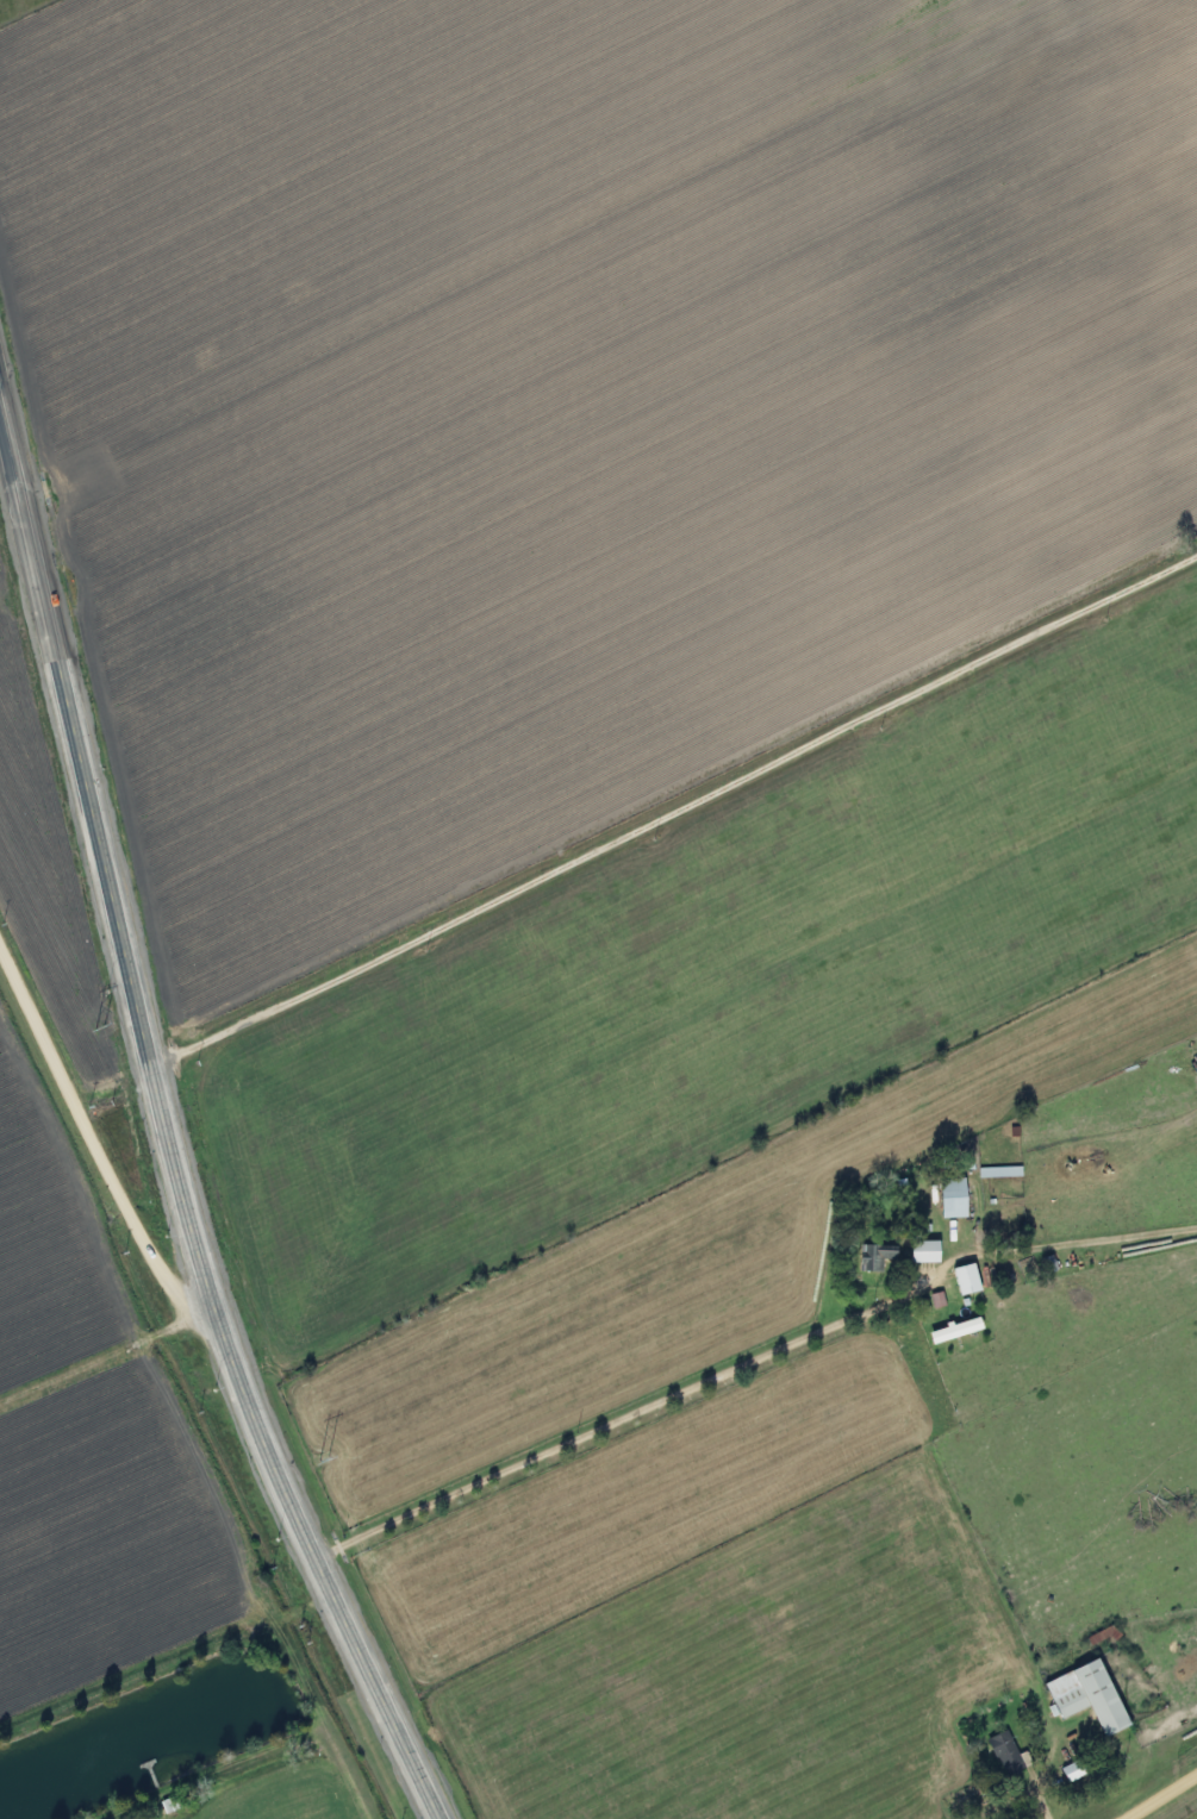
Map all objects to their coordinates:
road: (674, 810)
power tower: (101, 1024)
road: (166, 1133)
road: (91, 1138)
building: (1008, 1170)
building: (956, 1196)
building: (878, 1255)
building: (970, 1279)
building: (959, 1330)
road: (105, 1352)
road: (610, 1426)
power tower: (324, 1456)
building: (1092, 1695)
building: (1076, 1770)
road: (1045, 1782)
road: (1159, 1796)

